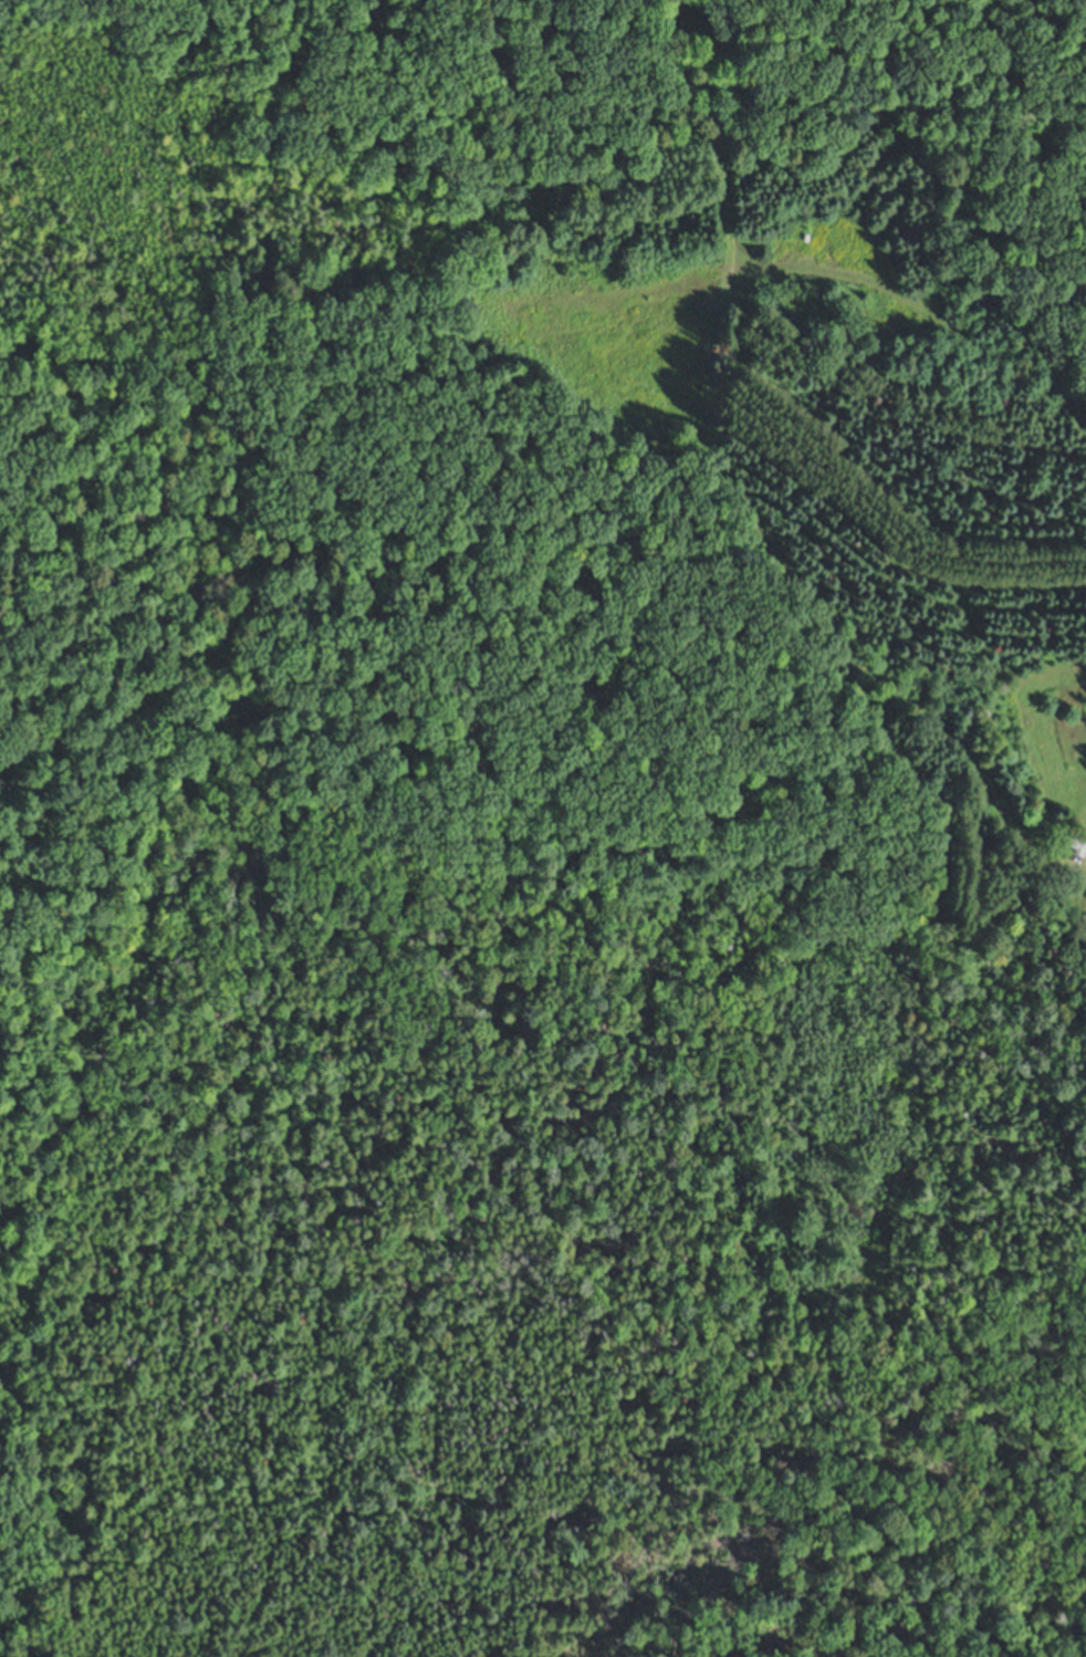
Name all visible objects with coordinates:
road: (729, 508)
building: (1079, 848)

